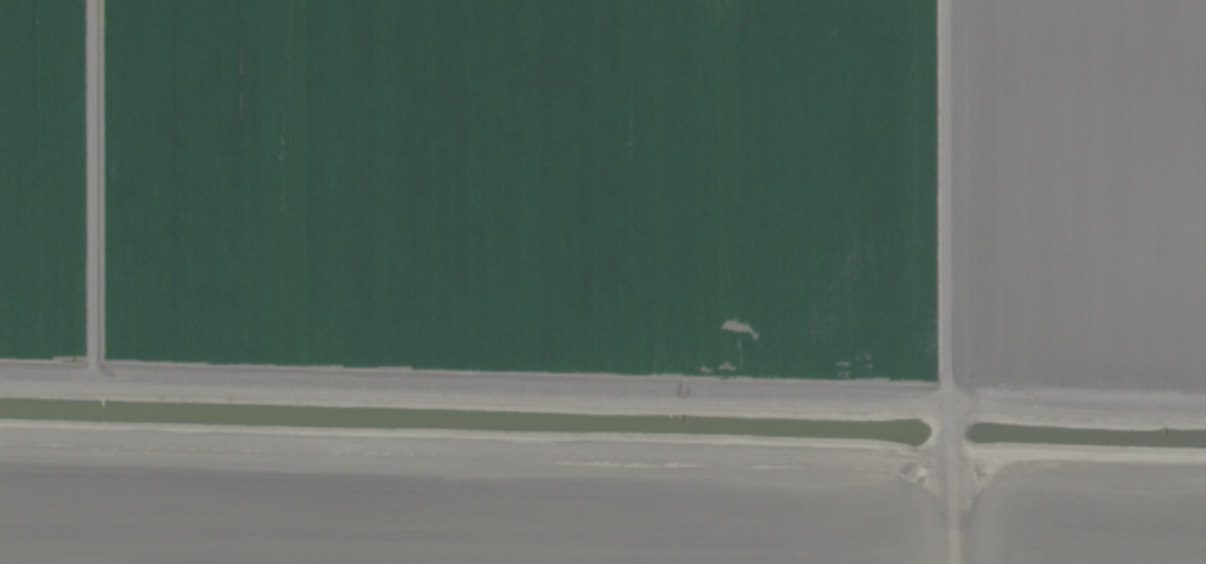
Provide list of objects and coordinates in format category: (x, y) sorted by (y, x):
crop: (602, 281)
road: (913, 281)

